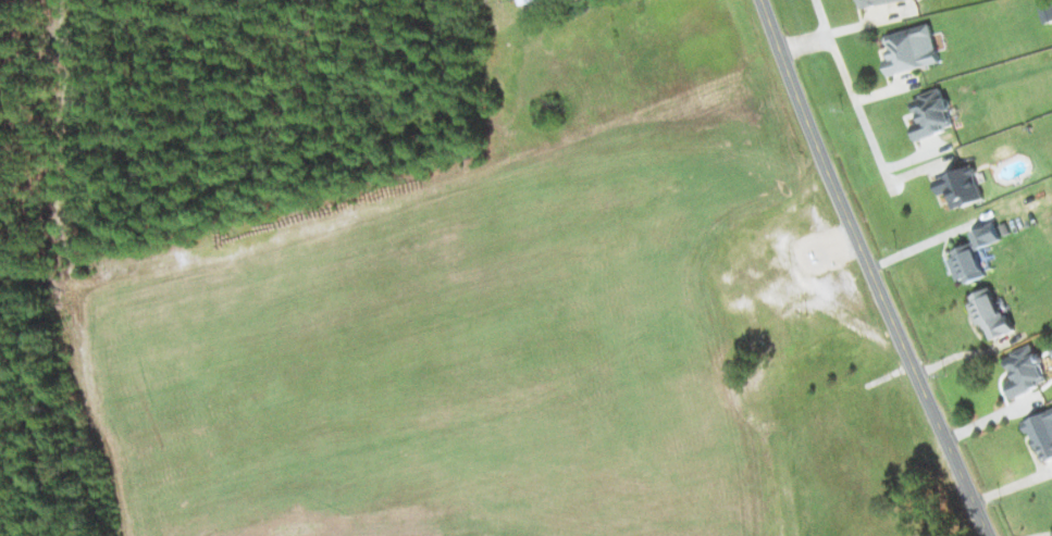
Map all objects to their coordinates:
building: (877, 2)
building: (1045, 11)
building: (912, 50)
building: (932, 114)
building: (960, 187)
building: (973, 254)
road: (868, 270)
building: (989, 313)
building: (1024, 372)
building: (1041, 435)

